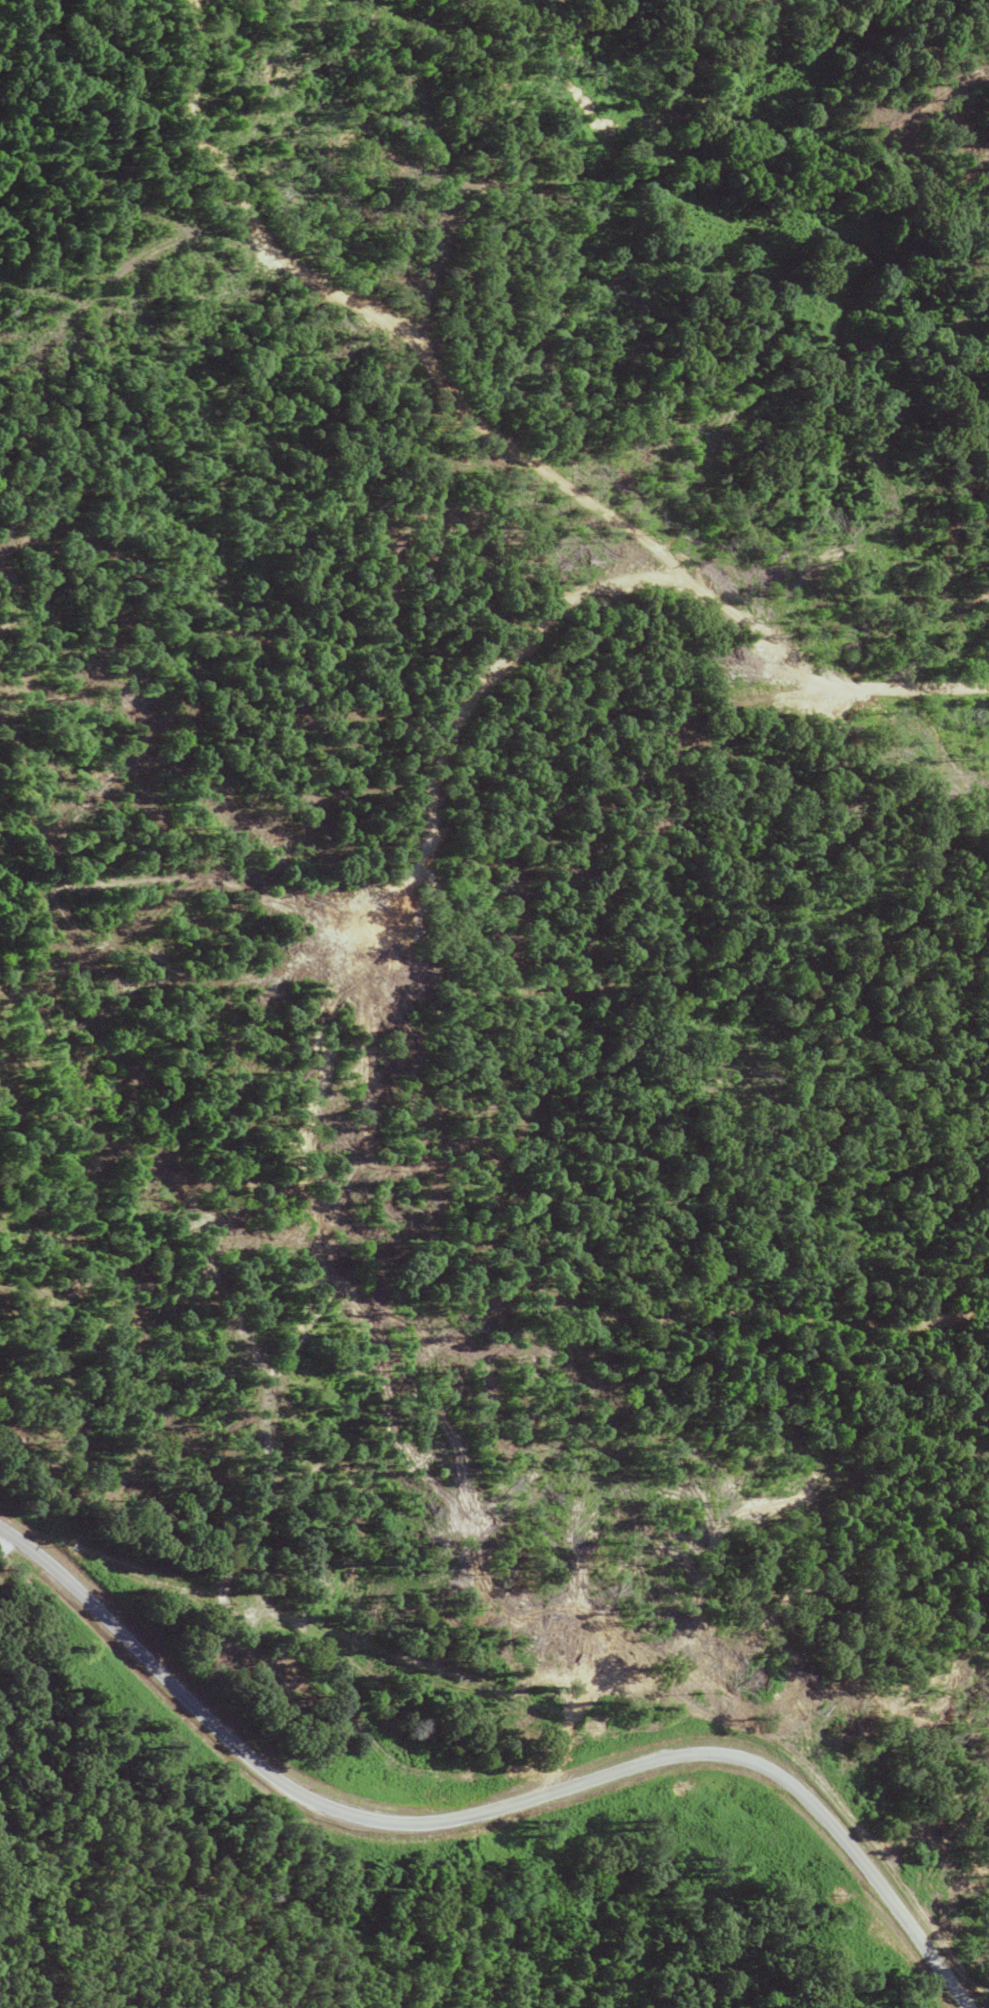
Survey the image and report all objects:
road: (6, 1542)
road: (489, 1809)
road: (127, 1848)
road: (335, 1912)

